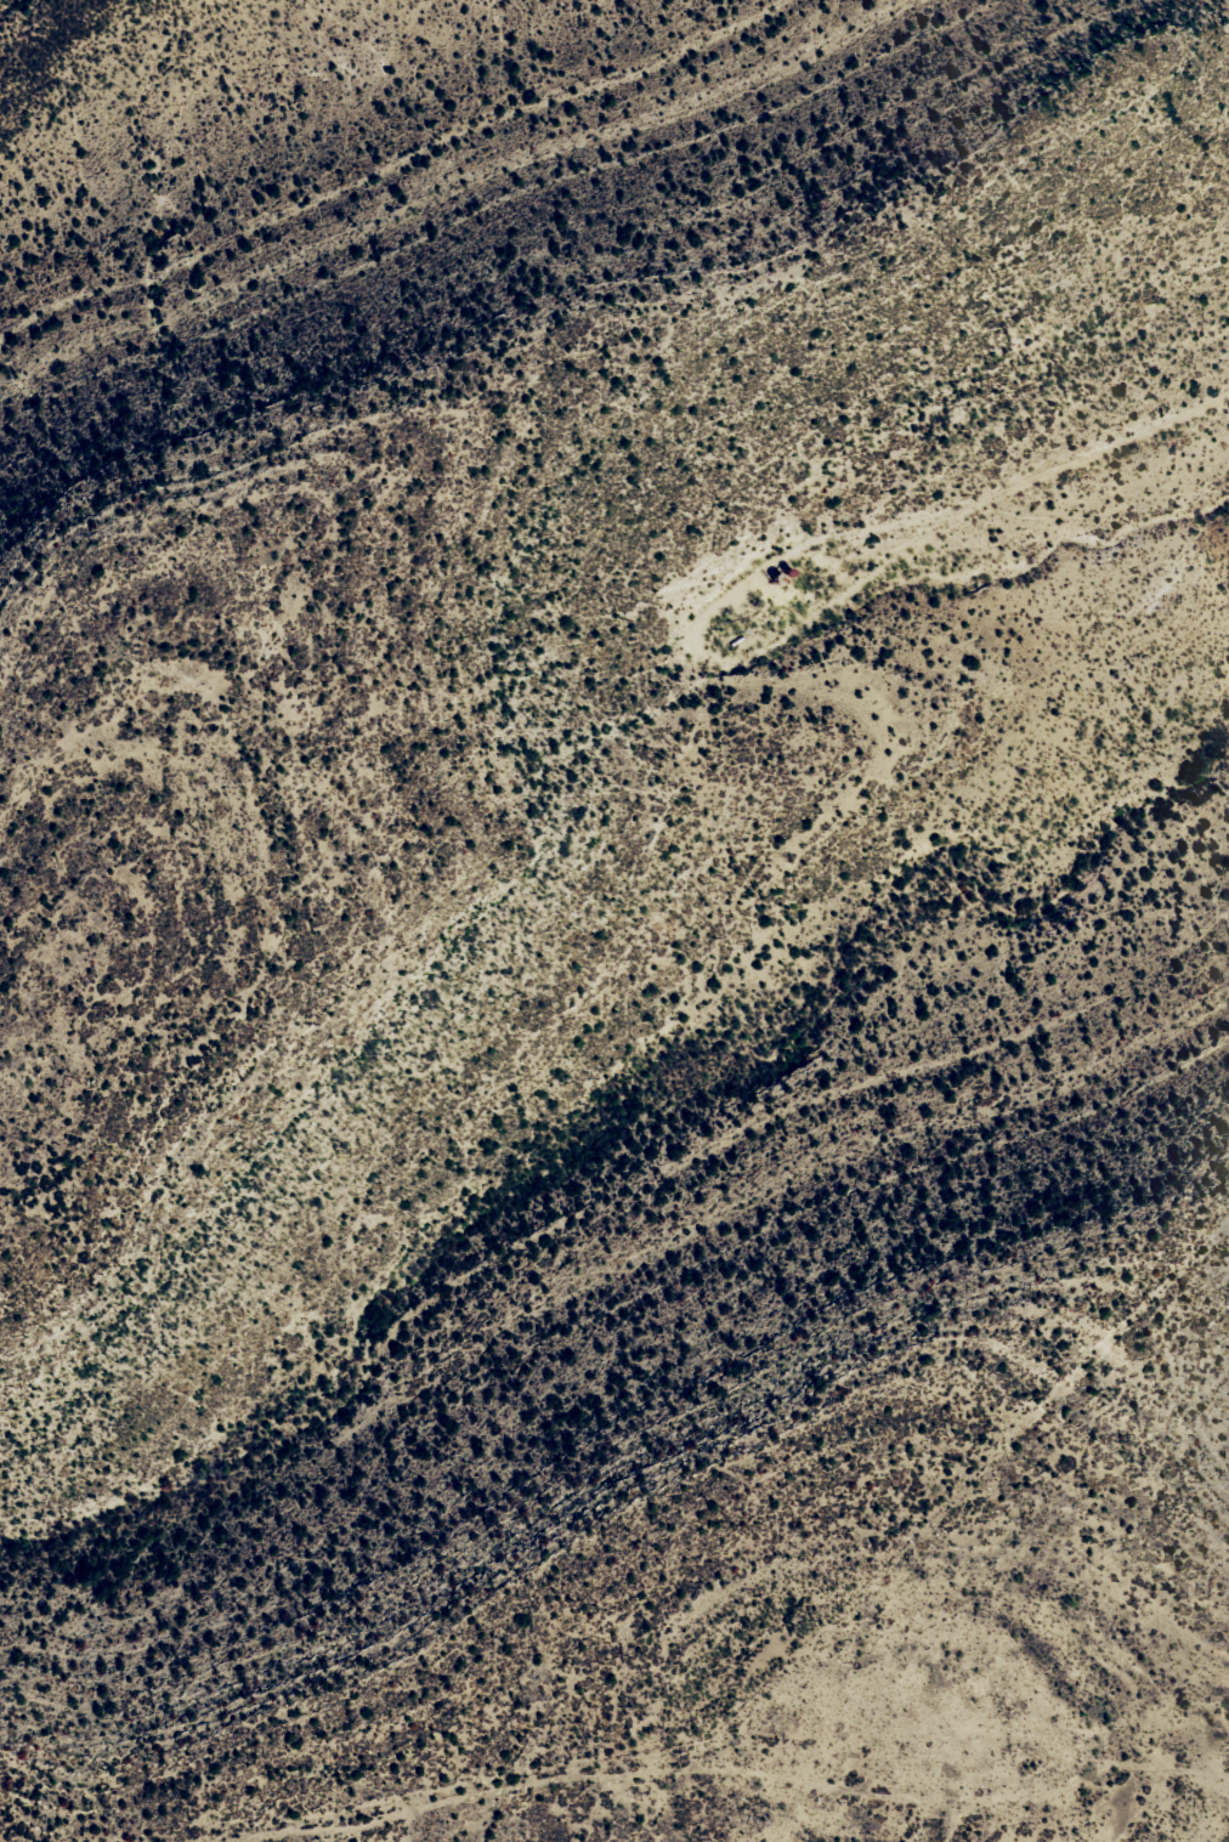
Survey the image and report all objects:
road: (1077, 448)

